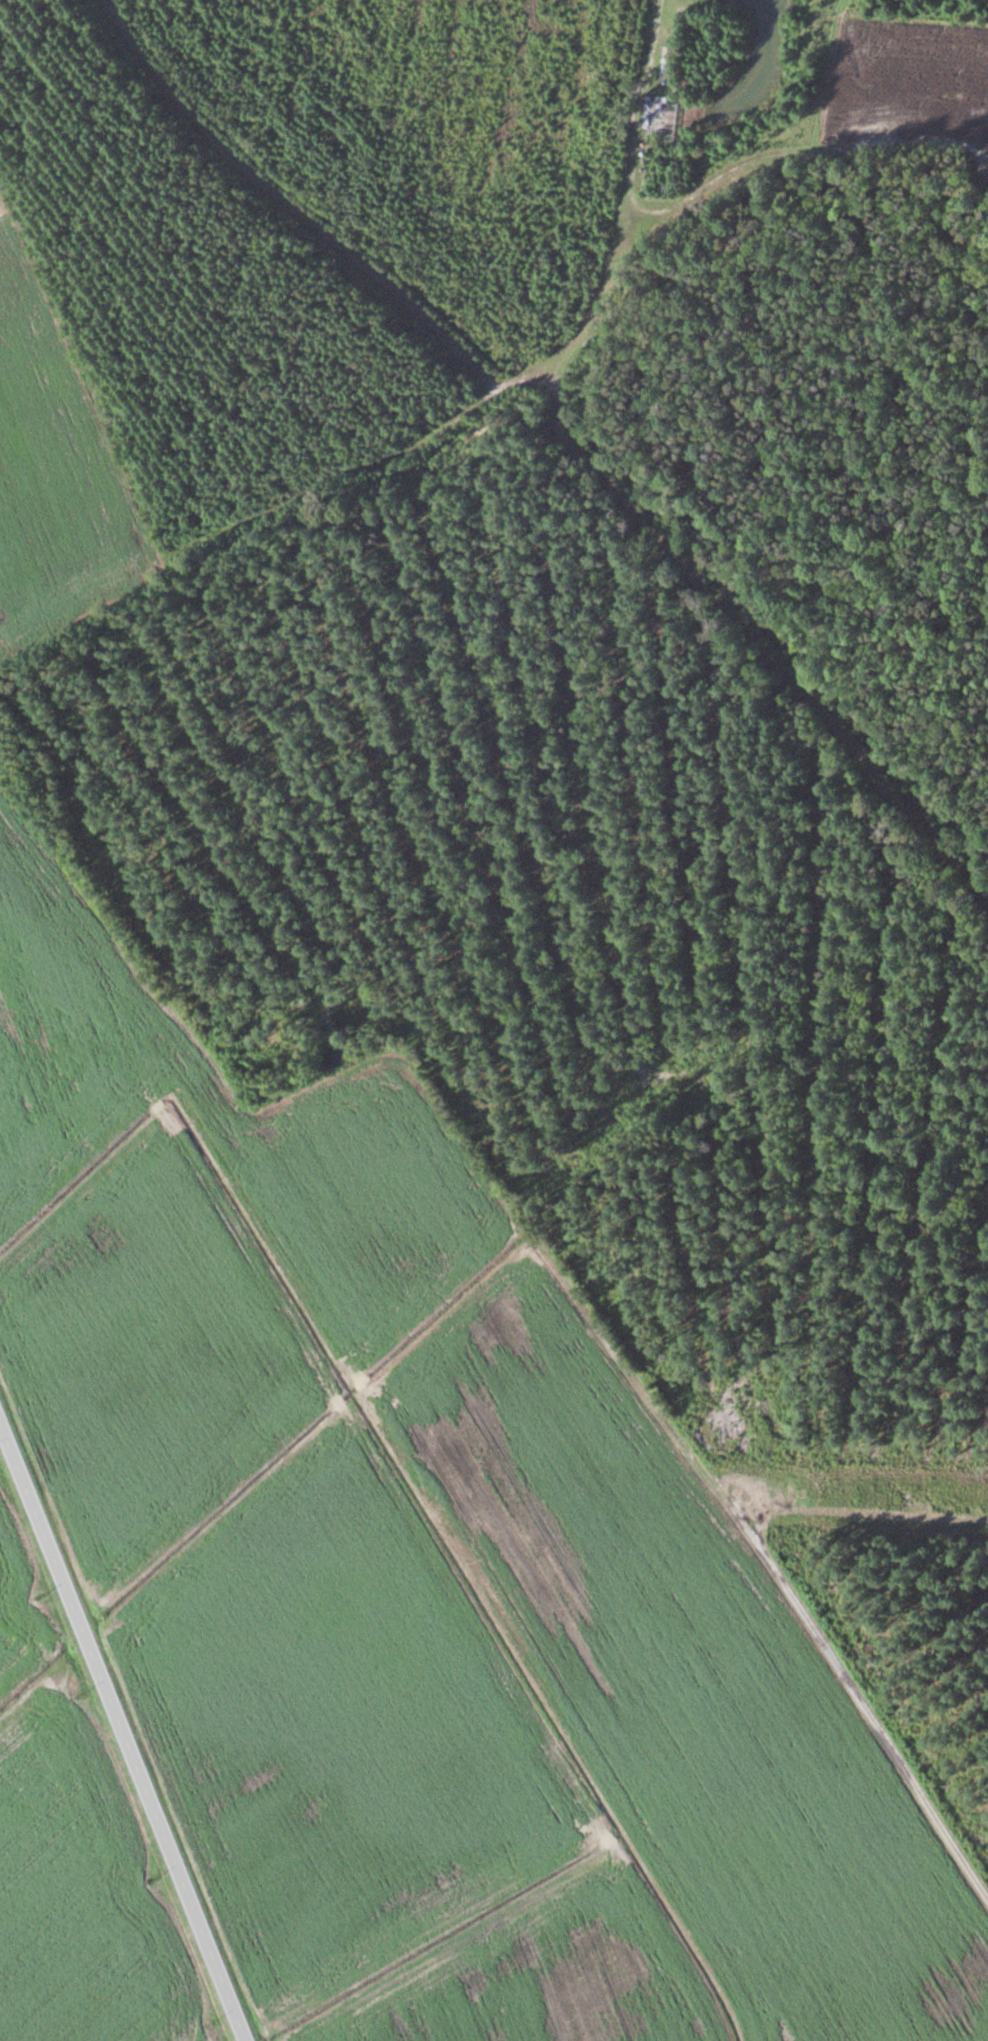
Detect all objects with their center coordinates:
power tower: (437, 1492)
power tower: (907, 1499)
road: (128, 1709)

